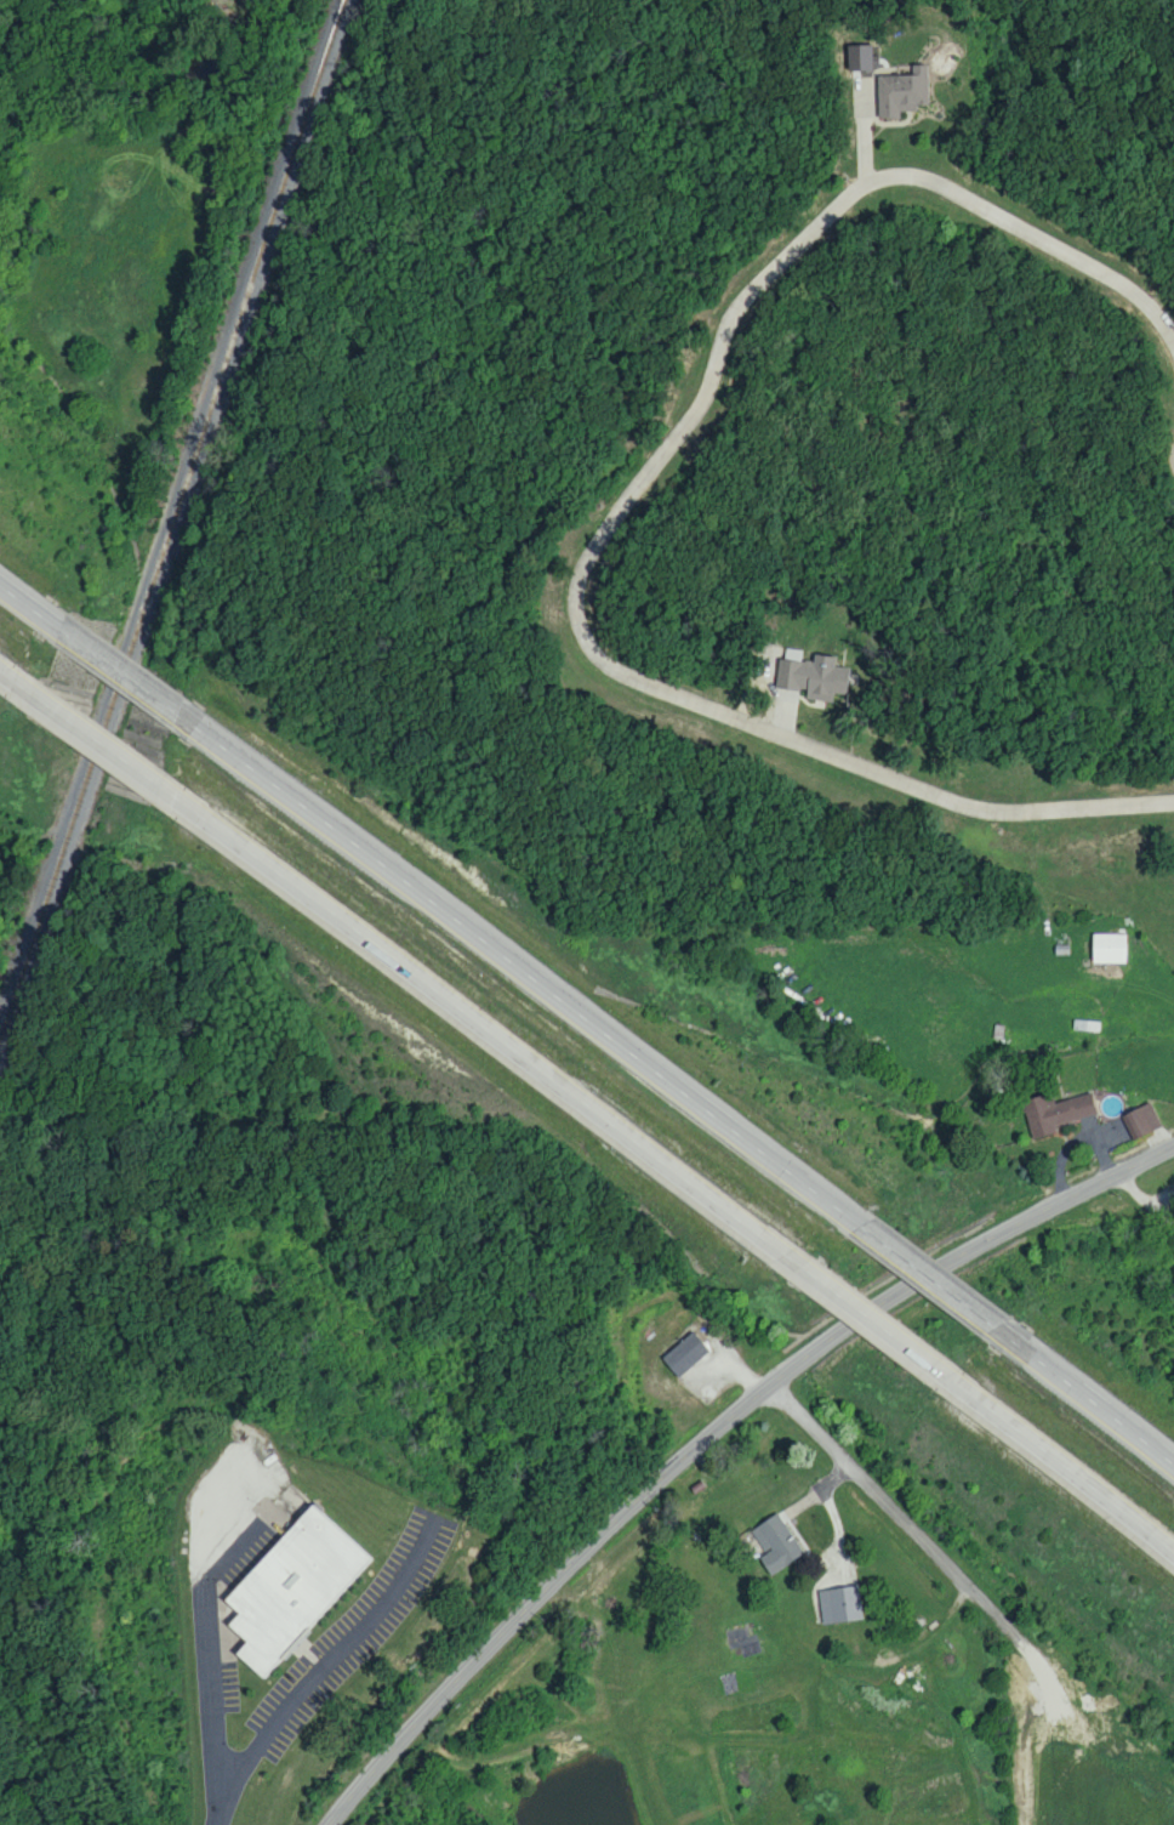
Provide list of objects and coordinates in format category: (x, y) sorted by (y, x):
building: (854, 55)
building: (896, 90)
road: (623, 506)
railway: (181, 518)
road: (11, 606)
building: (810, 675)
road: (114, 676)
road: (87, 749)
building: (1107, 948)
road: (519, 974)
road: (1157, 983)
road: (486, 1033)
building: (1054, 1112)
building: (1141, 1118)
road: (1146, 1199)
road: (1066, 1200)
road: (924, 1281)
road: (895, 1295)
road: (878, 1335)
building: (683, 1353)
road: (1095, 1416)
road: (1070, 1483)
road: (917, 1529)
building: (775, 1543)
road: (566, 1568)
building: (289, 1586)
building: (840, 1603)
road: (194, 1648)
road: (301, 1671)
road: (625, 1677)
road: (19, 1762)

